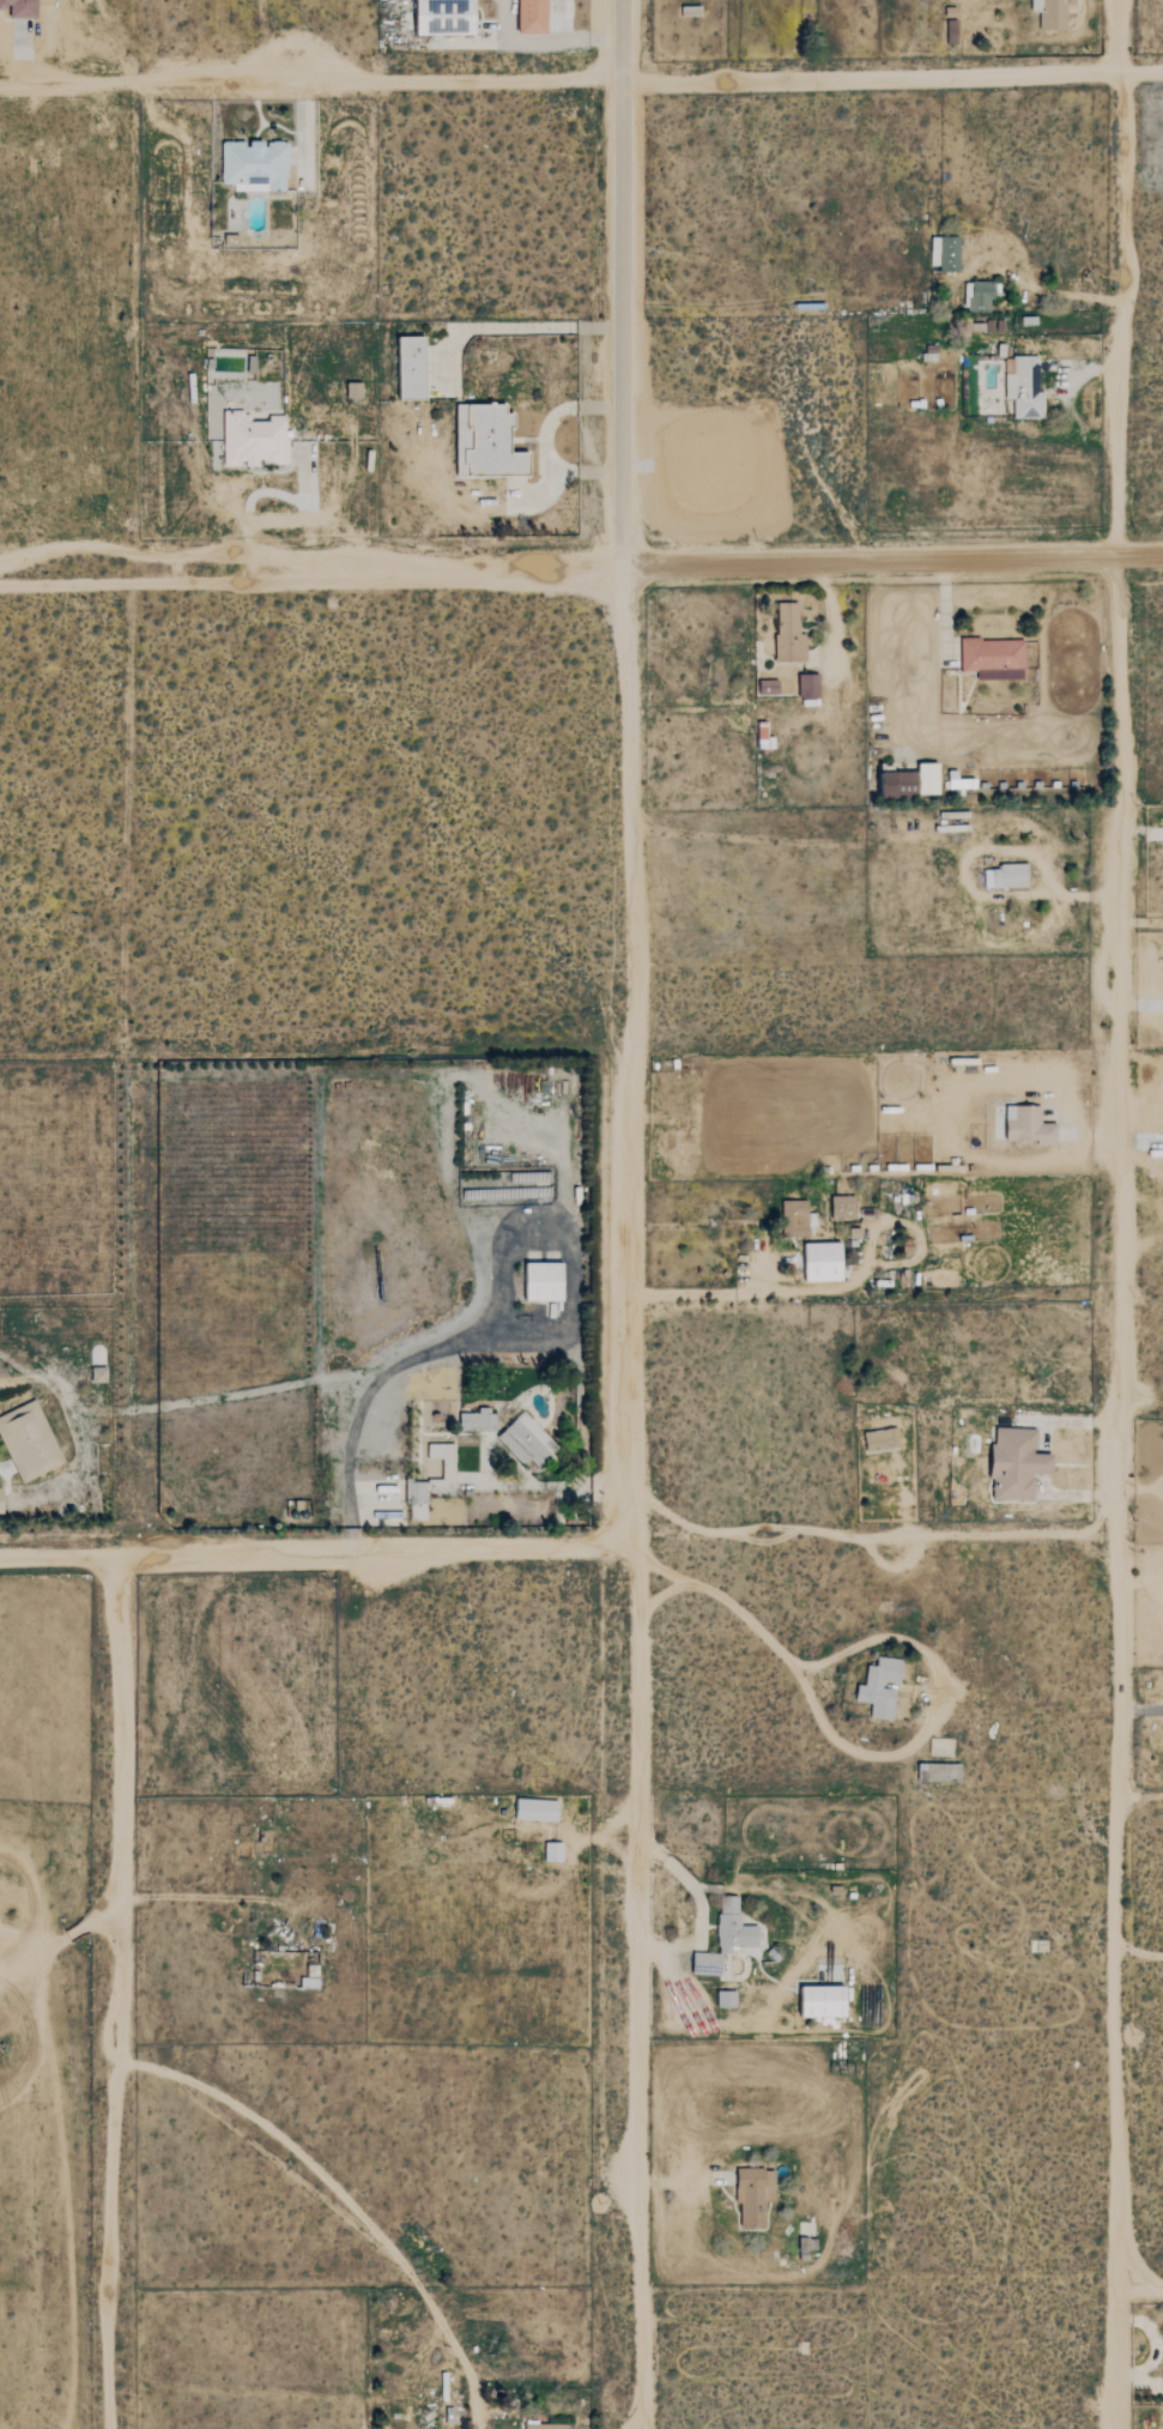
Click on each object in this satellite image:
building: (1047, 13)
building: (437, 17)
building: (526, 17)
building: (947, 32)
road: (22, 55)
road: (892, 75)
road: (311, 84)
road: (307, 131)
building: (256, 163)
building: (940, 253)
road: (623, 282)
building: (975, 297)
building: (979, 327)
building: (414, 369)
building: (1020, 388)
building: (356, 389)
building: (255, 440)
building: (490, 442)
road: (581, 563)
building: (786, 634)
building: (989, 658)
building: (805, 685)
building: (764, 687)
building: (758, 736)
building: (890, 783)
building: (1003, 876)
road: (1137, 920)
building: (1024, 1125)
building: (838, 1207)
road: (1110, 1214)
building: (791, 1217)
building: (817, 1261)
building: (537, 1282)
road: (834, 1289)
building: (93, 1374)
building: (473, 1420)
building: (877, 1439)
building: (522, 1440)
building: (25, 1442)
building: (441, 1461)
building: (1011, 1463)
road: (629, 1497)
building: (417, 1511)
road: (867, 1535)
road: (314, 1554)
road: (655, 1596)
road: (891, 1637)
building: (876, 1687)
building: (532, 1809)
building: (549, 1851)
building: (729, 1926)
road: (60, 1941)
road: (114, 1993)
building: (722, 1999)
building: (814, 2001)
road: (343, 2195)
building: (750, 2195)
road: (1137, 2290)
building: (541, 2427)

